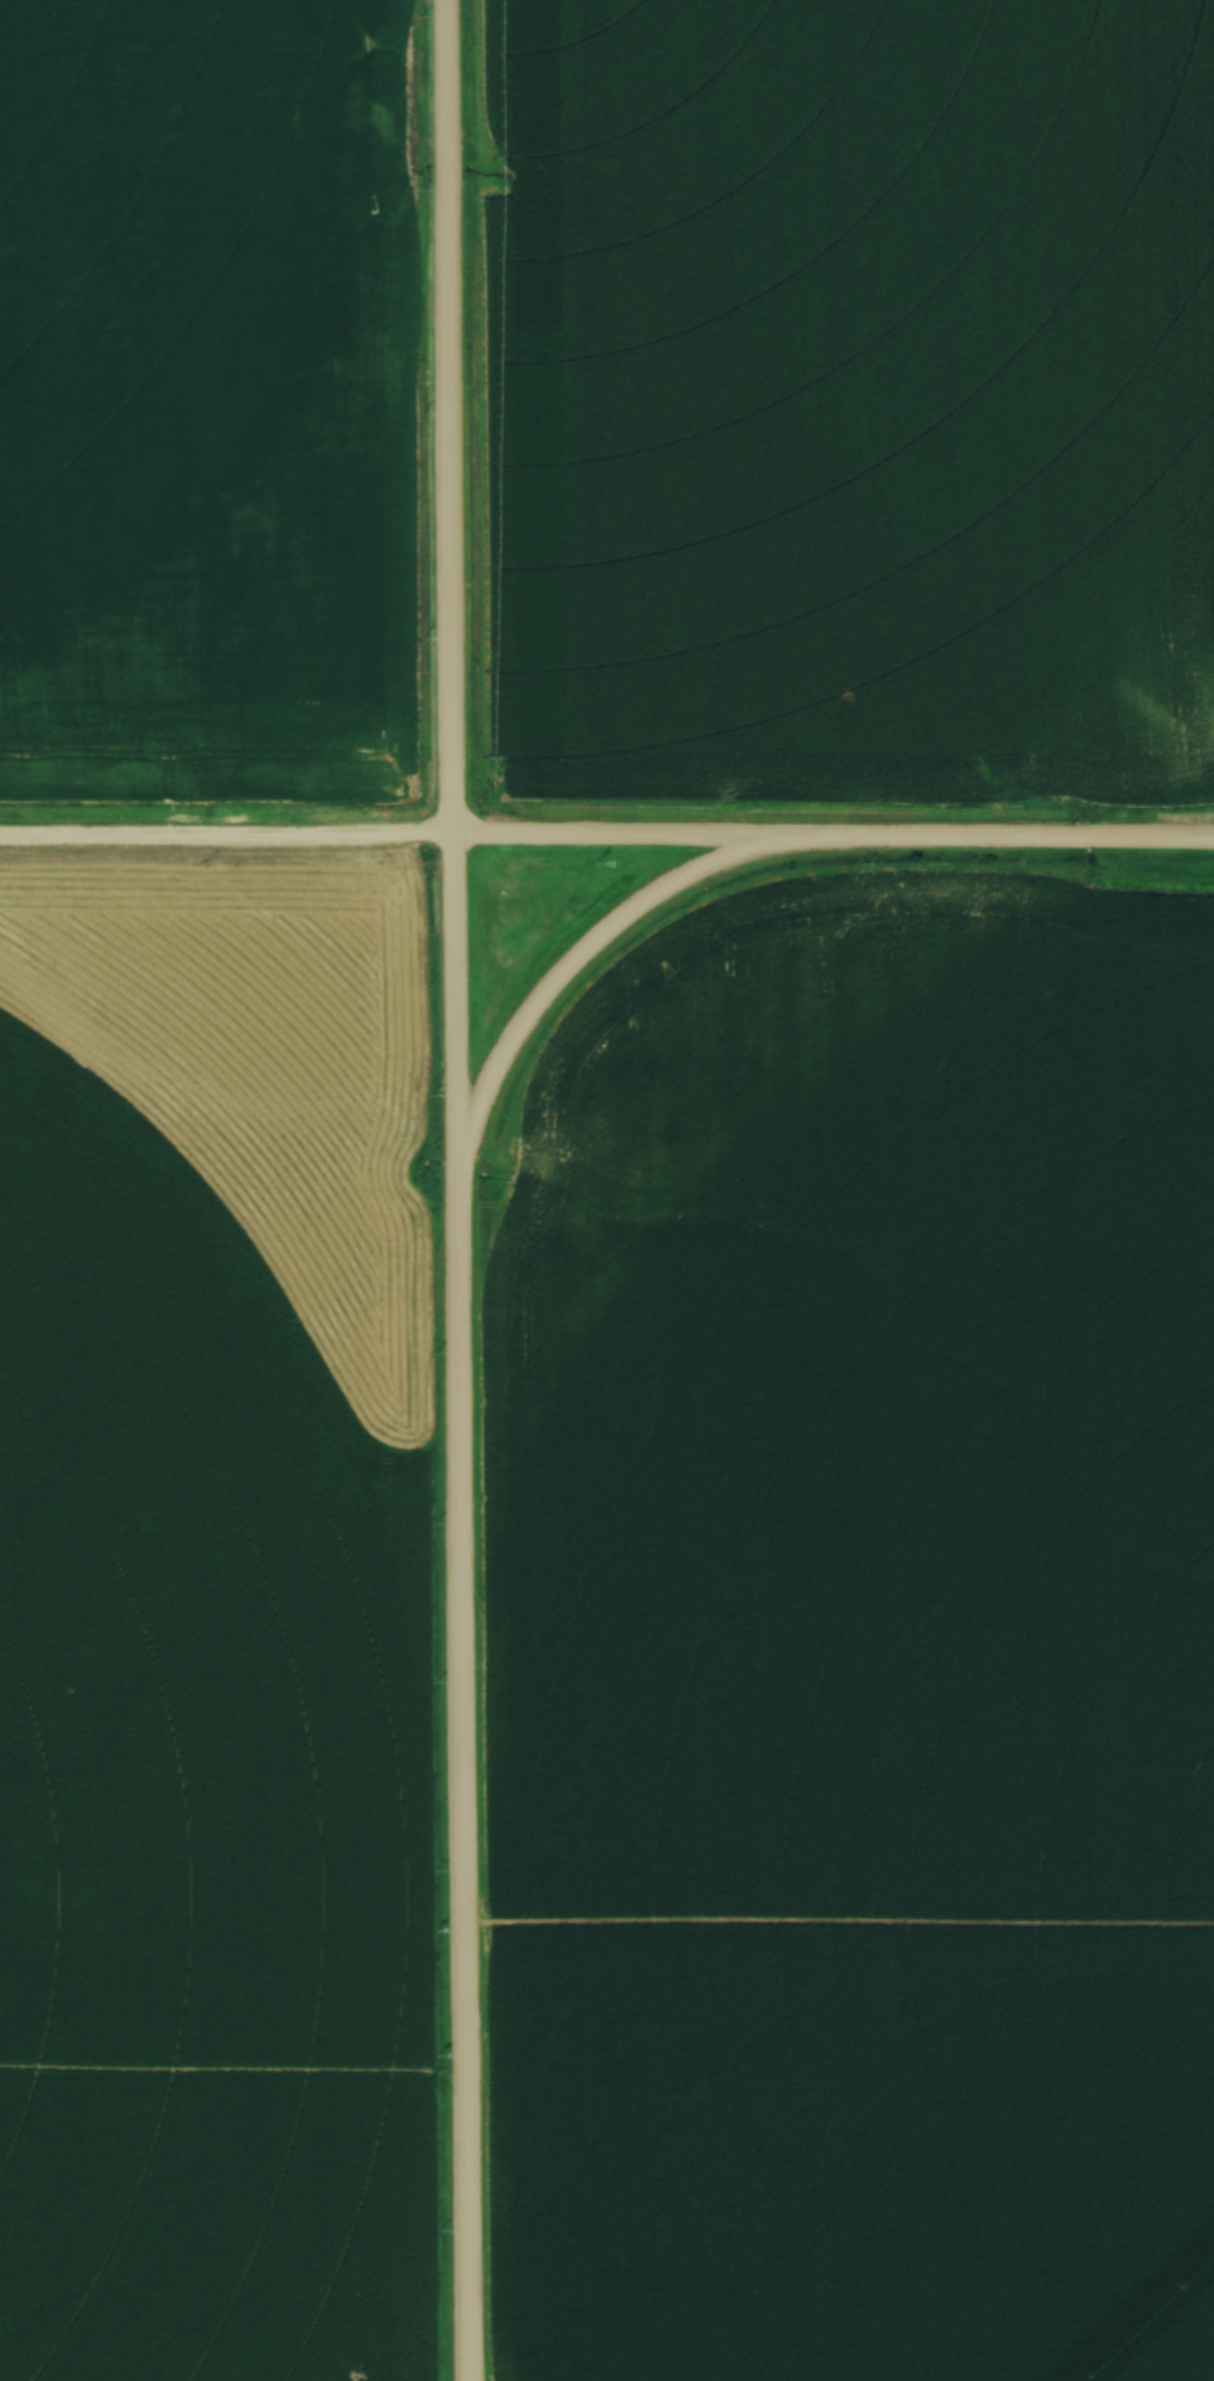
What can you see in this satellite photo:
road: (226, 836)
road: (832, 836)
road: (594, 944)
road: (455, 1190)

